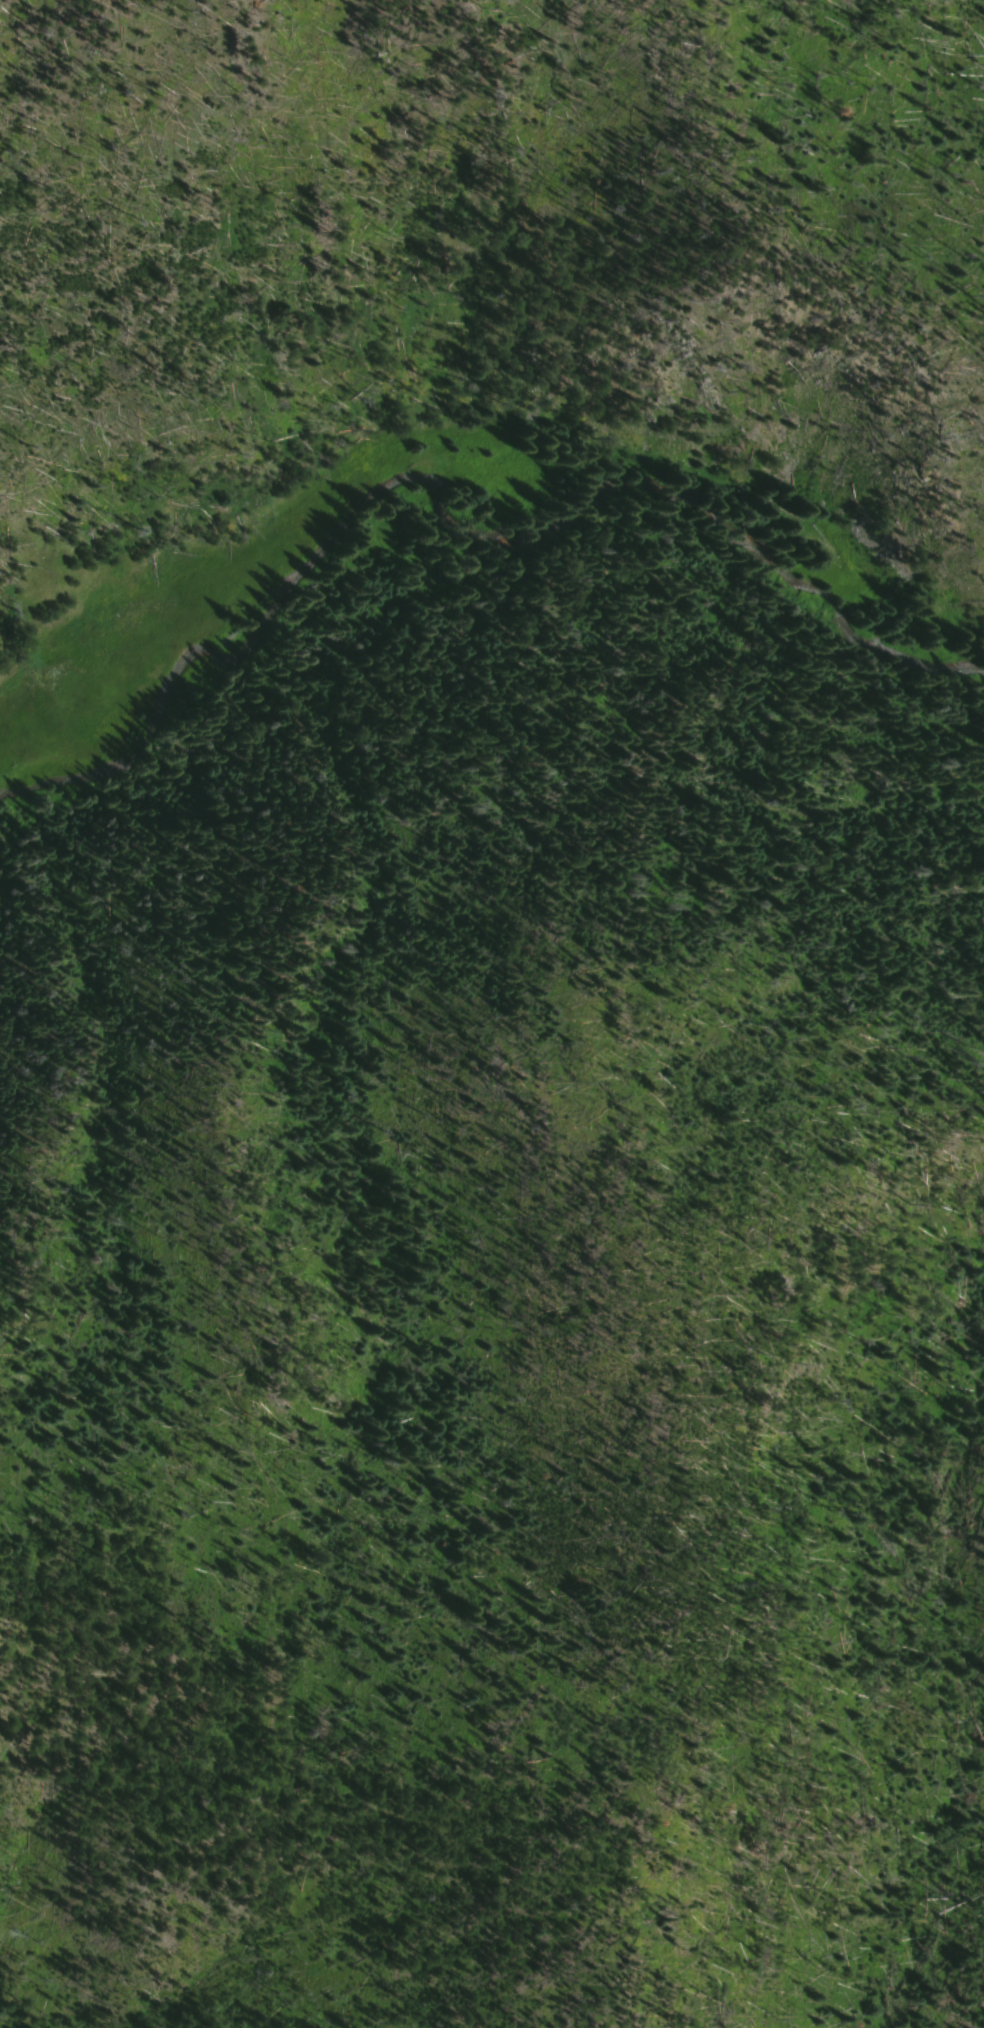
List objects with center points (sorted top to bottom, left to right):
river: (447, 513)

